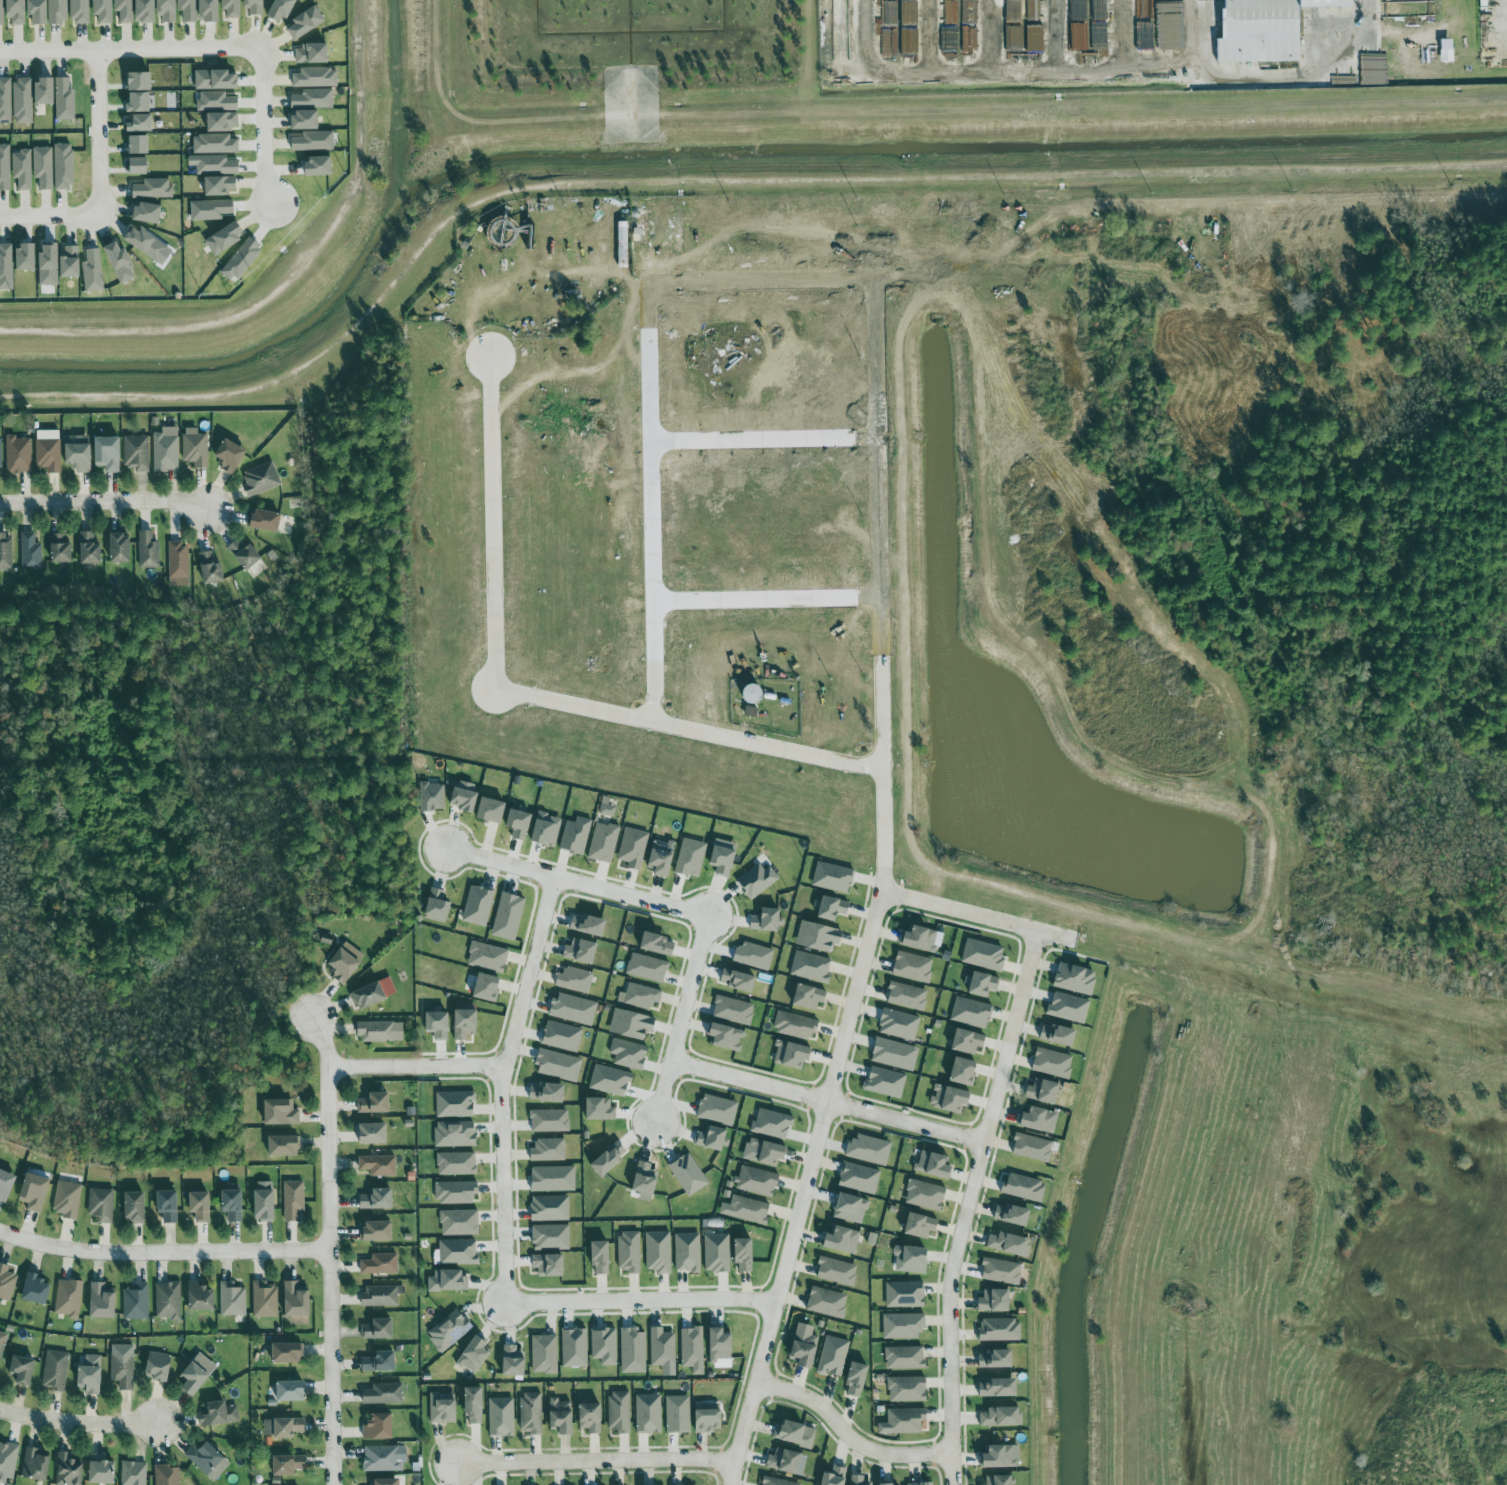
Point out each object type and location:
building: (254, 7)
building: (232, 8)
building: (125, 10)
building: (188, 10)
building: (282, 10)
building: (1100, 10)
building: (48, 11)
building: (80, 11)
building: (103, 11)
building: (147, 11)
building: (167, 11)
building: (210, 11)
building: (2, 12)
building: (17, 12)
building: (909, 13)
building: (307, 22)
road: (864, 28)
building: (1268, 30)
building: (950, 40)
building: (970, 40)
road: (128, 48)
building: (1448, 51)
building: (313, 54)
building: (316, 78)
building: (217, 80)
building: (139, 82)
building: (57, 97)
building: (314, 99)
building: (5, 100)
building: (23, 101)
building: (217, 101)
building: (139, 103)
building: (305, 121)
building: (223, 122)
building: (141, 123)
road: (99, 128)
road: (264, 132)
building: (314, 141)
river: (708, 143)
building: (215, 144)
building: (138, 145)
building: (216, 165)
building: (63, 166)
building: (139, 166)
building: (320, 167)
building: (5, 168)
building: (43, 168)
building: (22, 169)
building: (221, 186)
building: (153, 189)
building: (211, 210)
building: (148, 213)
road: (49, 216)
building: (643, 229)
building: (226, 238)
building: (145, 243)
building: (27, 258)
building: (242, 260)
building: (71, 262)
building: (120, 262)
building: (50, 266)
building: (6, 268)
building: (93, 271)
road: (254, 326)
road: (652, 397)
road: (766, 446)
building: (195, 447)
building: (165, 449)
building: (48, 450)
building: (136, 452)
building: (79, 453)
building: (108, 453)
building: (1, 455)
building: (18, 455)
building: (231, 455)
building: (261, 479)
road: (105, 506)
building: (265, 520)
building: (120, 547)
building: (60, 548)
building: (90, 549)
building: (148, 550)
building: (6, 552)
building: (30, 552)
building: (245, 553)
building: (178, 564)
building: (211, 568)
road: (769, 605)
building: (755, 694)
road: (529, 701)
building: (431, 797)
building: (465, 799)
building: (606, 807)
building: (492, 810)
building: (520, 824)
building: (546, 829)
building: (575, 835)
building: (603, 842)
building: (632, 847)
building: (662, 857)
building: (691, 858)
building: (723, 860)
building: (832, 874)
building: (757, 880)
road: (581, 885)
road: (880, 896)
building: (478, 905)
building: (438, 906)
building: (828, 907)
building: (508, 916)
road: (977, 917)
building: (766, 920)
building: (589, 925)
building: (814, 935)
building: (919, 937)
building: (659, 944)
building: (581, 951)
building: (980, 952)
building: (754, 955)
building: (488, 957)
building: (338, 961)
building: (909, 965)
building: (647, 967)
building: (807, 967)
road: (531, 976)
building: (1071, 976)
building: (575, 979)
building: (738, 980)
building: (978, 981)
building: (488, 987)
building: (369, 992)
building: (803, 994)
building: (903, 995)
building: (641, 997)
building: (465, 1006)
building: (1069, 1007)
building: (573, 1009)
building: (733, 1010)
building: (966, 1010)
building: (466, 1024)
building: (632, 1024)
building: (794, 1024)
building: (895, 1024)
building: (438, 1025)
building: (376, 1030)
road: (685, 1030)
building: (1052, 1030)
building: (561, 1036)
building: (727, 1036)
building: (961, 1039)
building: (787, 1052)
building: (629, 1054)
building: (895, 1054)
building: (1048, 1059)
building: (558, 1065)
building: (960, 1068)
road: (418, 1074)
building: (611, 1080)
building: (885, 1082)
building: (1038, 1088)
building: (548, 1093)
building: (945, 1097)
building: (369, 1100)
building: (455, 1104)
building: (600, 1109)
road: (832, 1109)
building: (275, 1110)
building: (718, 1110)
building: (1034, 1118)
building: (549, 1121)
building: (772, 1124)
building: (368, 1131)
building: (455, 1134)
building: (712, 1138)
building: (280, 1142)
building: (1028, 1145)
building: (865, 1147)
building: (548, 1150)
building: (763, 1150)
building: (610, 1159)
building: (375, 1163)
building: (456, 1163)
building: (927, 1163)
building: (689, 1174)
building: (4, 1177)
building: (856, 1177)
building: (553, 1179)
building: (754, 1179)
building: (646, 1181)
building: (1021, 1185)
building: (30, 1187)
road: (505, 1190)
building: (455, 1192)
building: (921, 1192)
building: (64, 1197)
building: (290, 1198)
building: (371, 1198)
building: (229, 1202)
building: (98, 1203)
building: (131, 1203)
building: (261, 1203)
building: (196, 1204)
building: (165, 1205)
road: (970, 1205)
building: (743, 1207)
building: (847, 1207)
building: (550, 1208)
building: (1008, 1212)
building: (459, 1222)
building: (916, 1224)
building: (372, 1229)
building: (551, 1237)
building: (838, 1238)
building: (1005, 1242)
road: (331, 1249)
building: (740, 1249)
building: (458, 1252)
building: (629, 1252)
building: (659, 1252)
building: (687, 1252)
building: (717, 1253)
road: (164, 1256)
building: (601, 1258)
building: (912, 1260)
building: (376, 1262)
building: (550, 1265)
building: (996, 1268)
building: (832, 1269)
building: (448, 1280)
building: (5, 1281)
building: (33, 1288)
building: (902, 1291)
building: (196, 1294)
building: (378, 1295)
building: (66, 1296)
building: (230, 1297)
building: (293, 1297)
building: (263, 1298)
building: (990, 1298)
building: (99, 1299)
building: (165, 1299)
building: (134, 1302)
building: (822, 1302)
road: (645, 1307)
building: (900, 1323)
building: (374, 1327)
building: (997, 1328)
building: (449, 1330)
building: (2, 1340)
building: (721, 1345)
building: (604, 1346)
building: (692, 1347)
building: (800, 1347)
building: (282, 1348)
building: (575, 1348)
building: (662, 1348)
building: (633, 1351)
building: (544, 1354)
building: (475, 1355)
building: (829, 1355)
building: (907, 1356)
building: (991, 1357)
building: (377, 1359)
building: (513, 1361)
building: (159, 1365)
building: (19, 1367)
building: (121, 1369)
building: (52, 1370)
building: (88, 1373)
building: (189, 1375)
building: (851, 1377)
building: (286, 1385)
building: (993, 1386)
building: (905, 1387)
building: (382, 1393)
building: (470, 1401)
building: (440, 1409)
building: (216, 1411)
building: (616, 1411)
building: (676, 1411)
building: (646, 1412)
building: (529, 1413)
building: (557, 1415)
building: (588, 1416)
building: (999, 1417)
road: (78, 1418)
building: (497, 1418)
building: (705, 1418)
building: (905, 1419)
building: (374, 1425)
building: (281, 1426)
building: (791, 1430)
road: (848, 1434)
building: (995, 1454)
building: (380, 1457)
building: (7, 1458)
building: (205, 1458)
building: (781, 1460)
road: (595, 1461)
building: (32, 1462)
building: (283, 1462)
building: (65, 1470)
building: (96, 1470)
building: (130, 1473)
building: (165, 1474)
building: (830, 1474)
building: (994, 1478)
building: (380, 1480)
building: (772, 1481)
building: (854, 1481)
building: (918, 1481)
building: (595, 1484)
building: (681, 1484)
building: (880, 1484)

